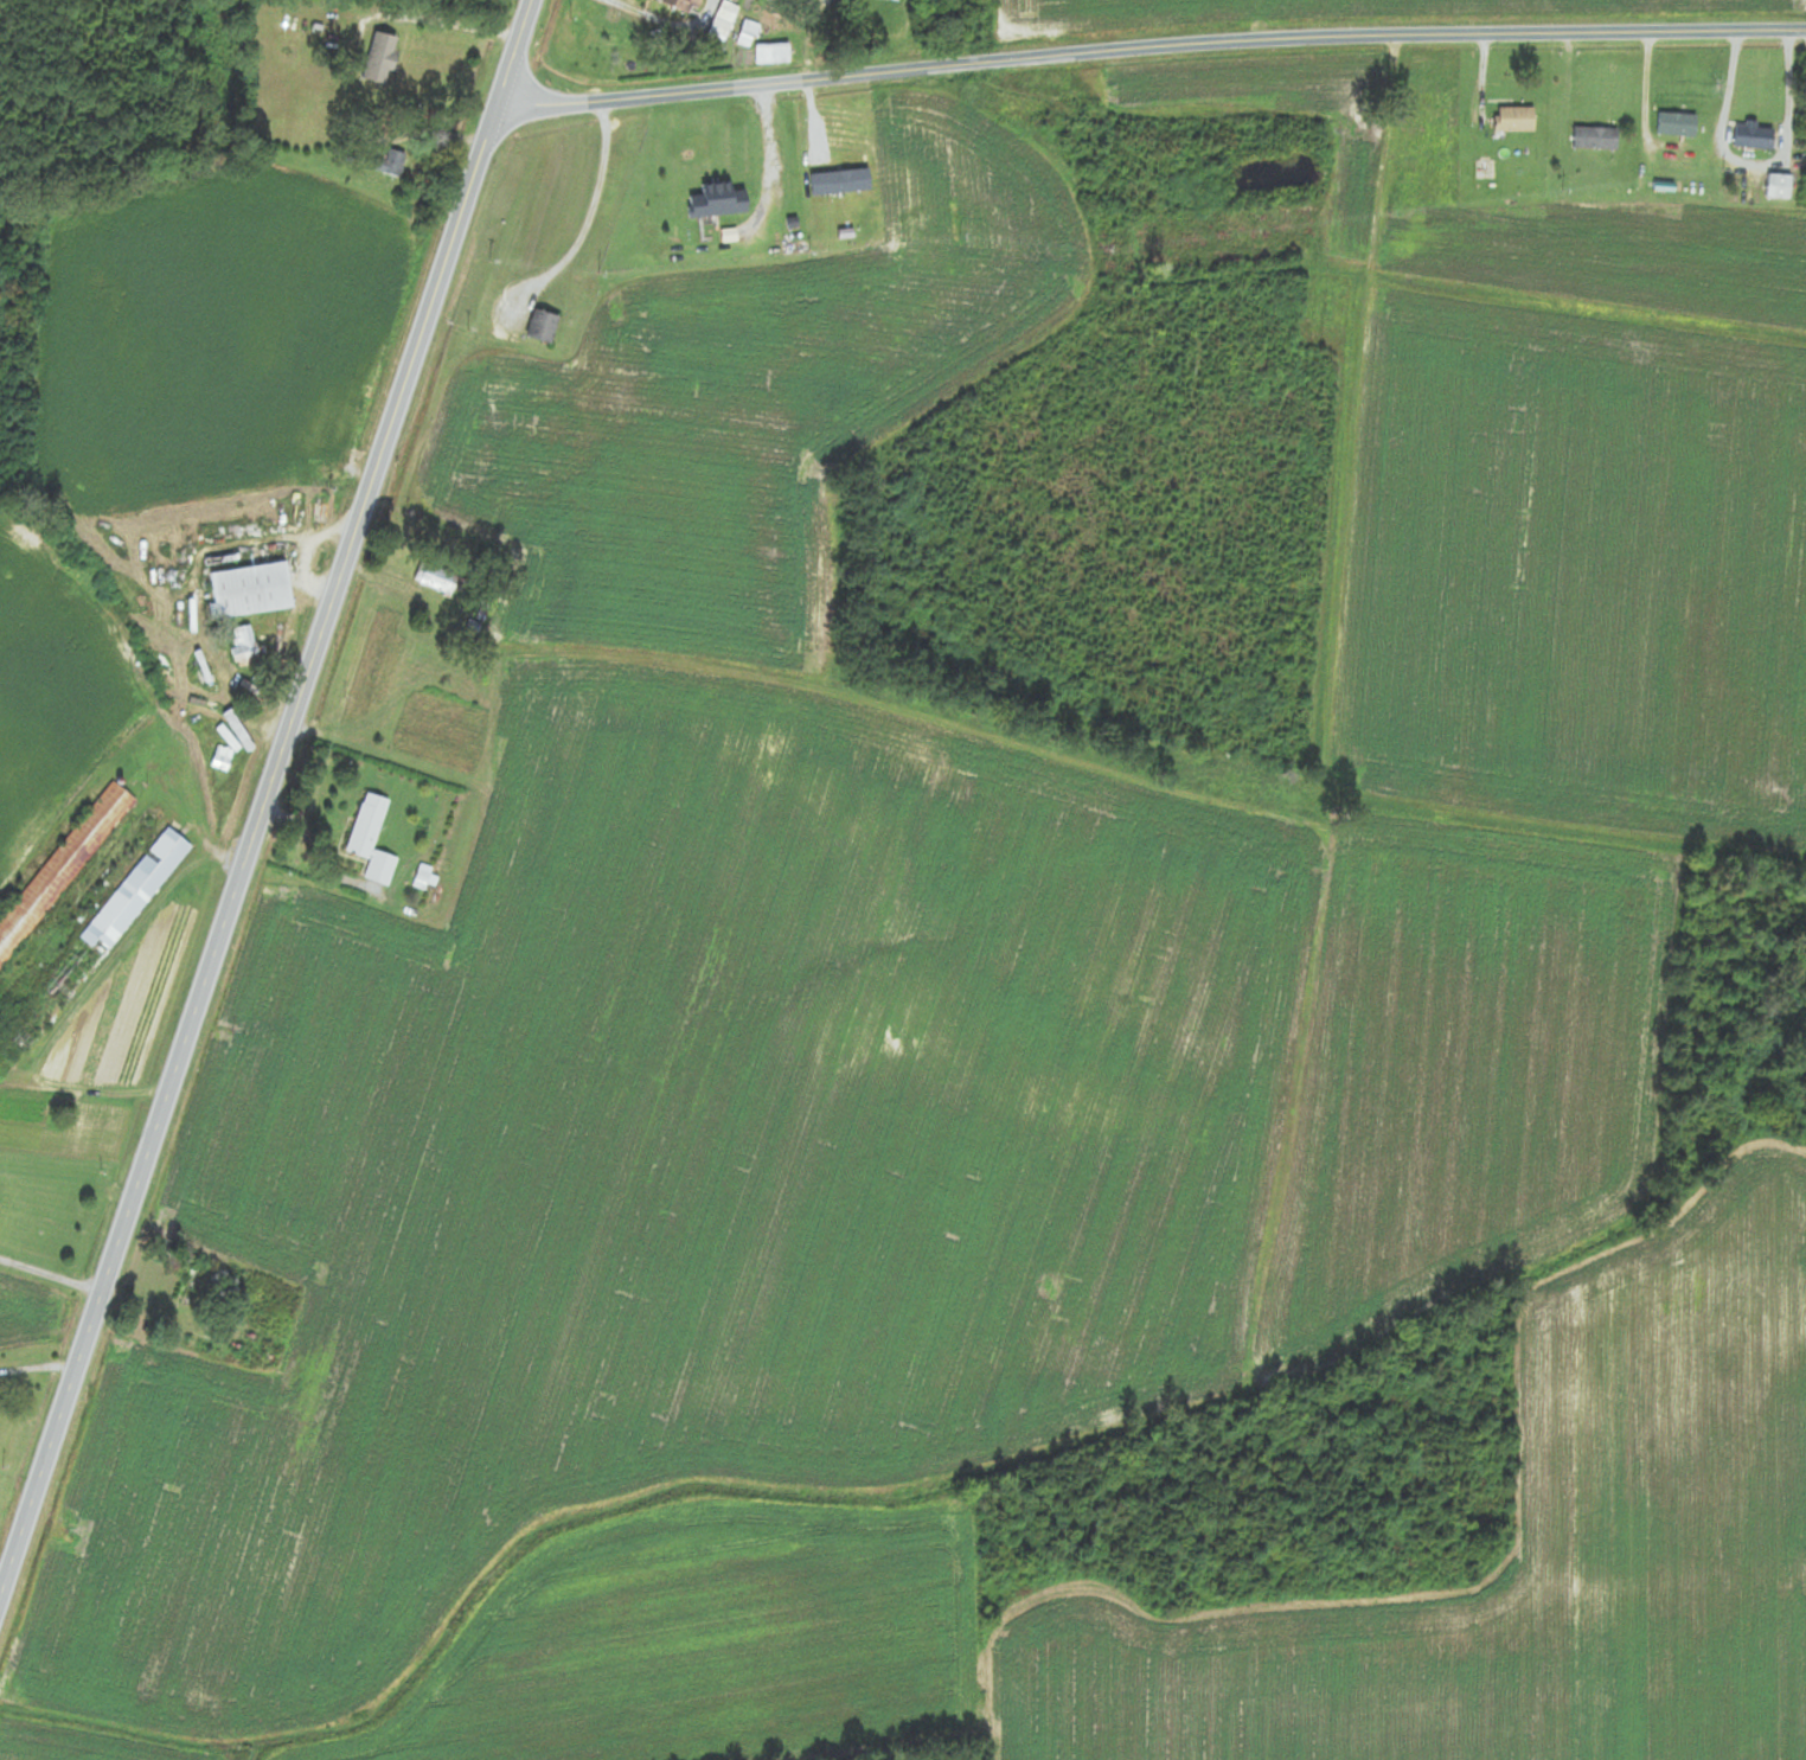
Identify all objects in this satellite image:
building: (895, 0)
building: (683, 5)
building: (723, 21)
road: (1148, 49)
road: (513, 55)
building: (378, 58)
building: (1516, 120)
building: (1677, 124)
building: (1754, 137)
building: (1596, 139)
building: (392, 165)
road: (1753, 165)
building: (1780, 187)
building: (718, 201)
building: (543, 327)
building: (436, 578)
building: (251, 590)
building: (244, 646)
building: (372, 839)
road: (248, 856)
building: (62, 869)
building: (94, 943)
building: (191, 1285)

